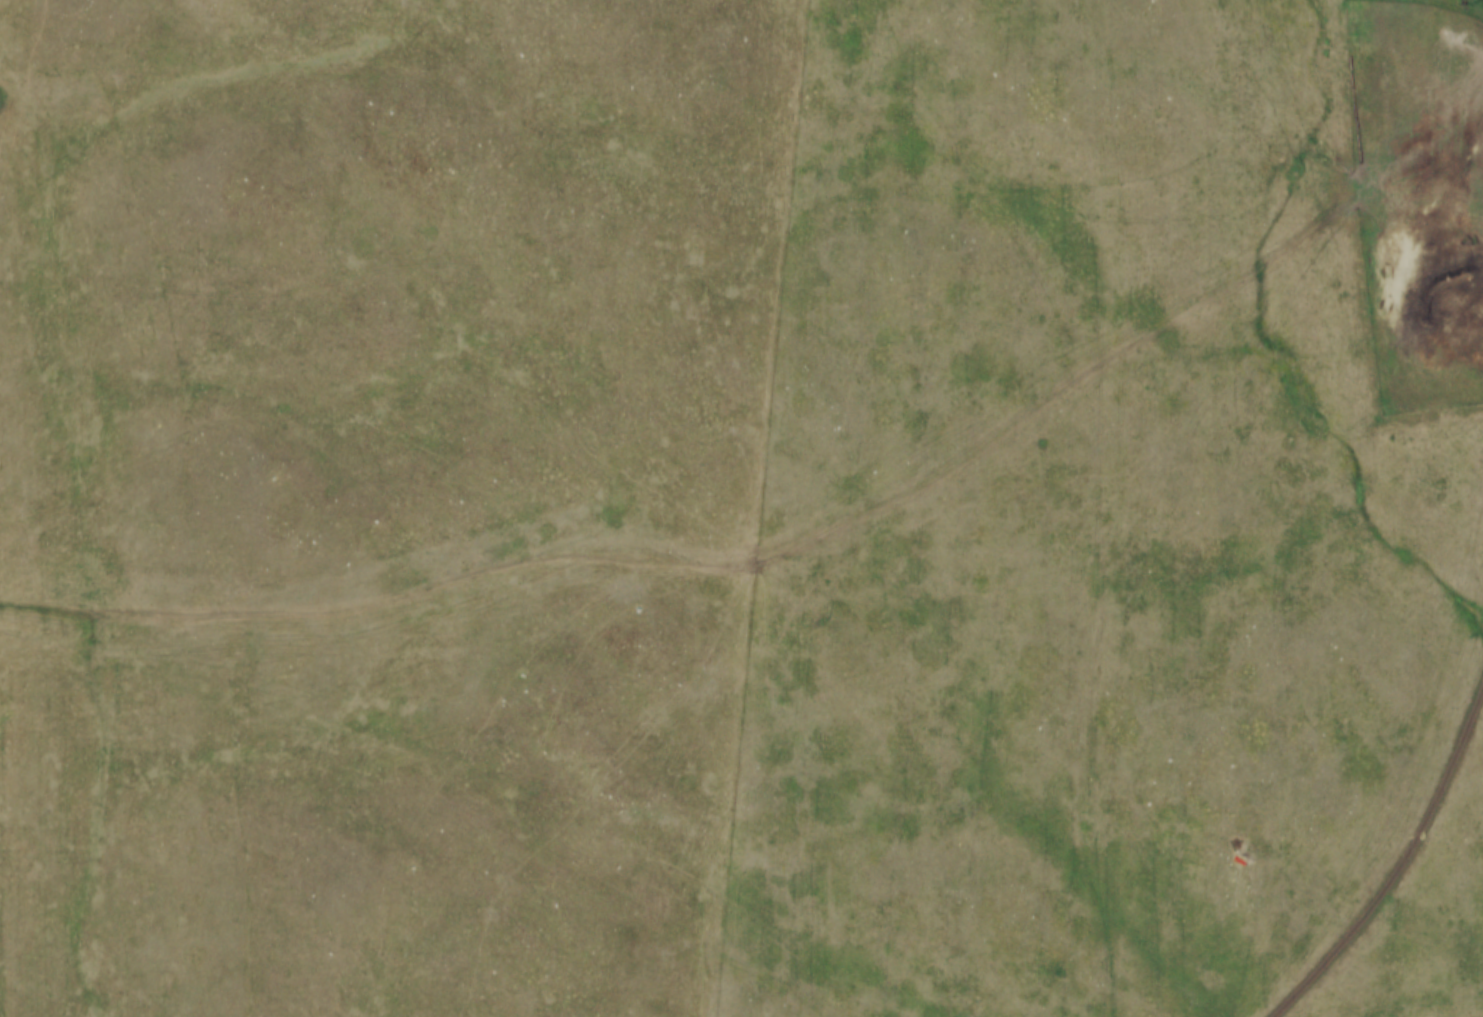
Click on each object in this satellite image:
road: (1402, 862)

